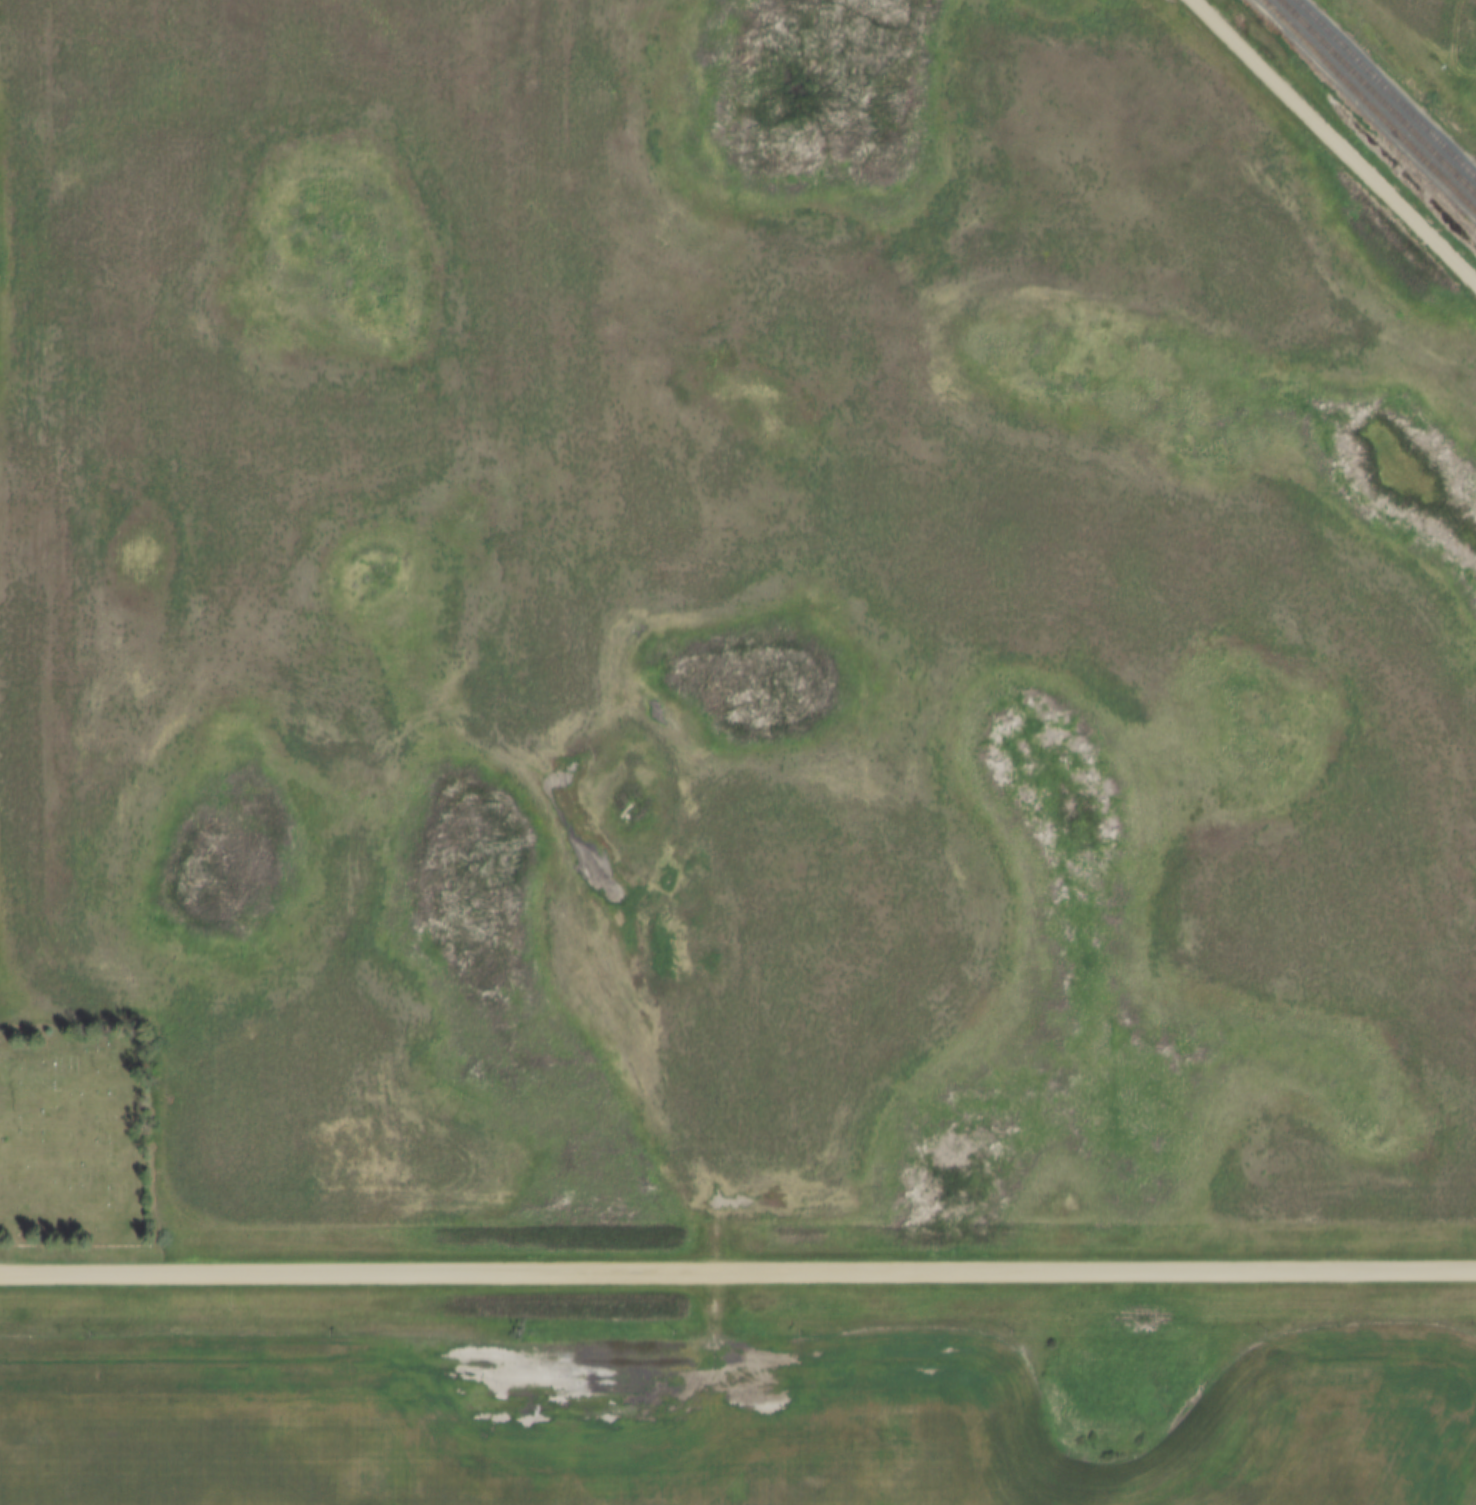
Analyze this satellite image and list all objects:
railway: (1386, 88)
railway: (1377, 97)
railway: (1370, 104)
road: (1333, 141)
road: (636, 1077)
road: (738, 1274)

